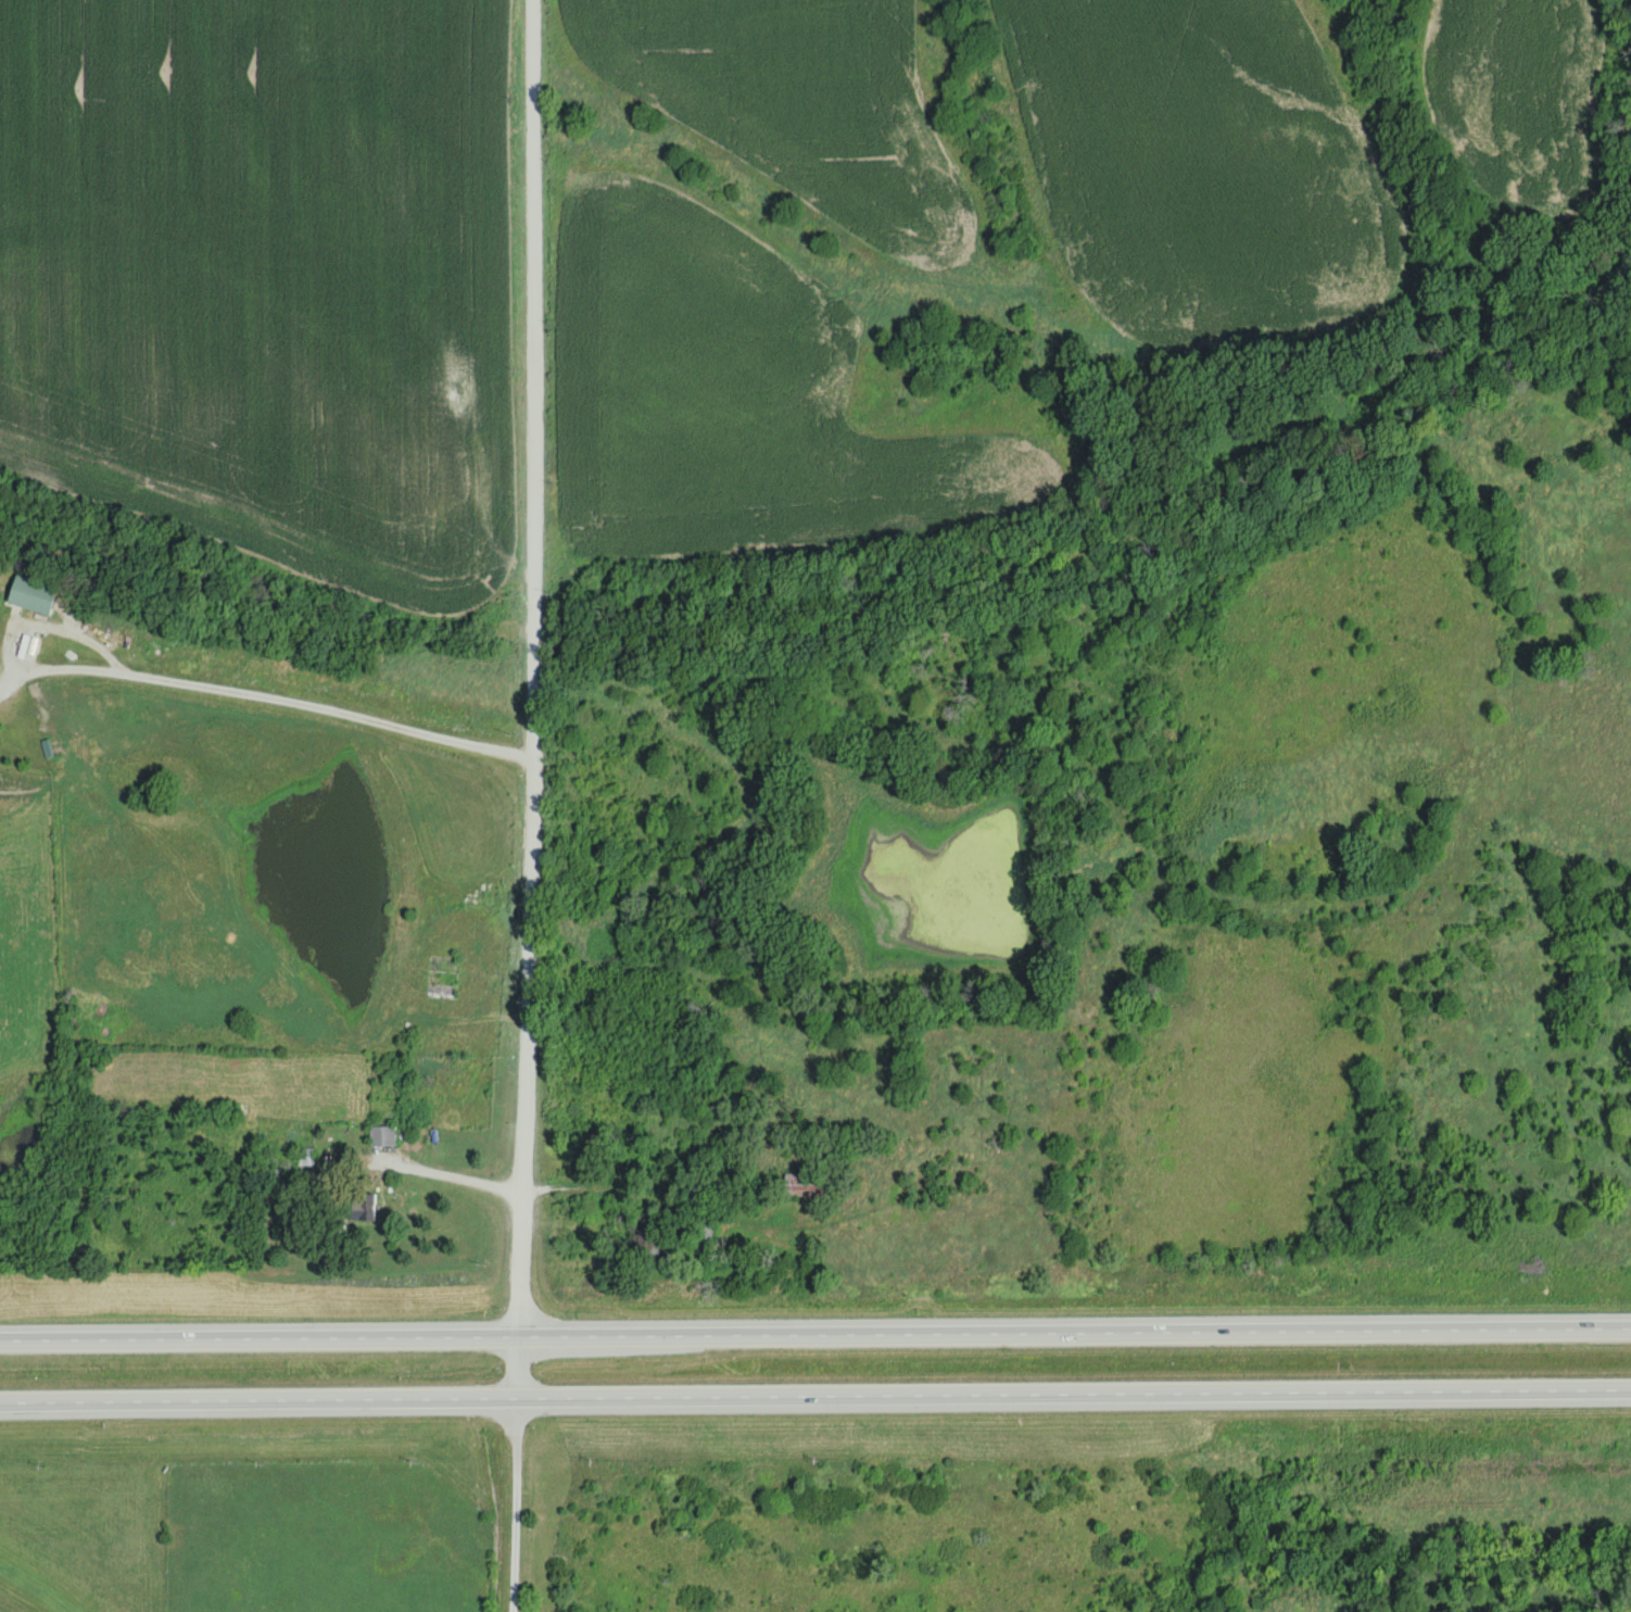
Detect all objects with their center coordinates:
building: (30, 594)
road: (535, 806)
building: (439, 977)
building: (380, 1136)
building: (305, 1157)
building: (804, 1185)
building: (361, 1208)
building: (646, 1242)
road: (814, 1334)
road: (814, 1397)

